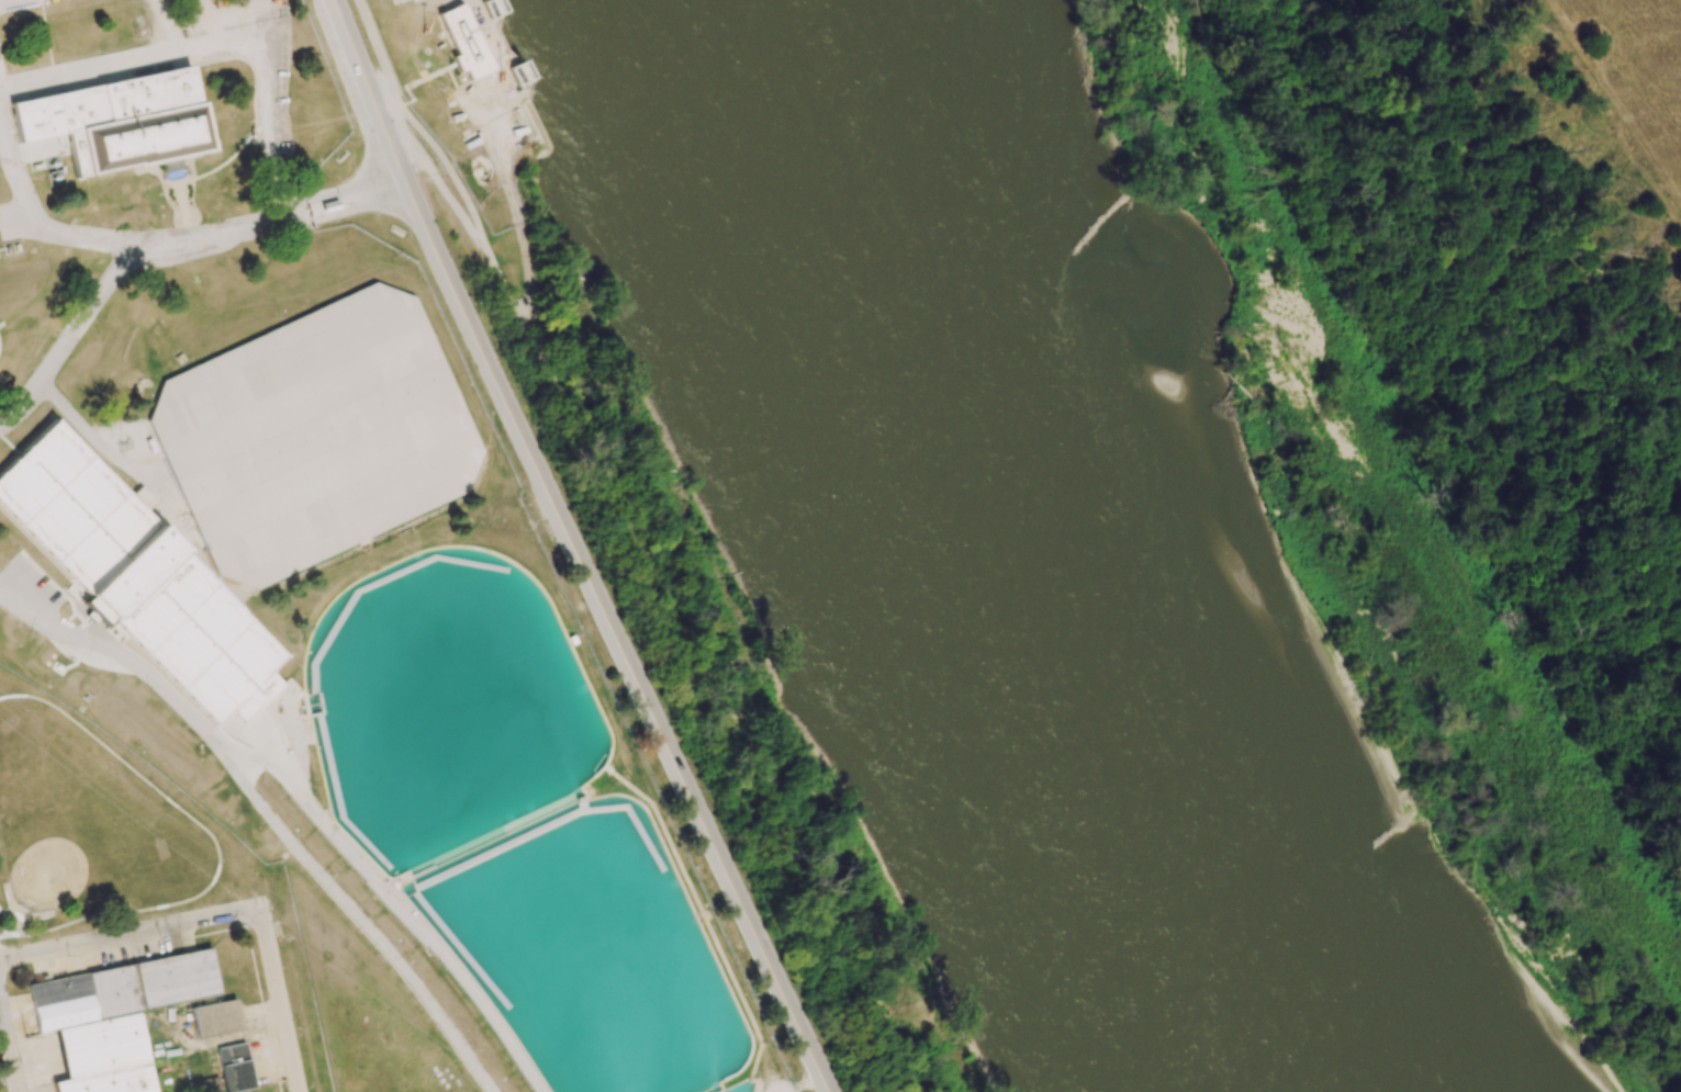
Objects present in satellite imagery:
building: (462, 42)
road: (372, 48)
road: (309, 101)
road: (371, 104)
building: (117, 121)
road: (310, 123)
road: (166, 247)
building: (261, 443)
road: (573, 549)
river: (1009, 564)
building: (134, 568)
road: (662, 588)
building: (99, 615)
road: (304, 798)
park: (86, 823)
road: (127, 933)
road: (279, 1001)
building: (64, 1012)
building: (214, 1017)
road: (10, 1045)
building: (102, 1046)
building: (234, 1068)
building: (112, 1081)
road: (805, 1081)
building: (206, 1084)

